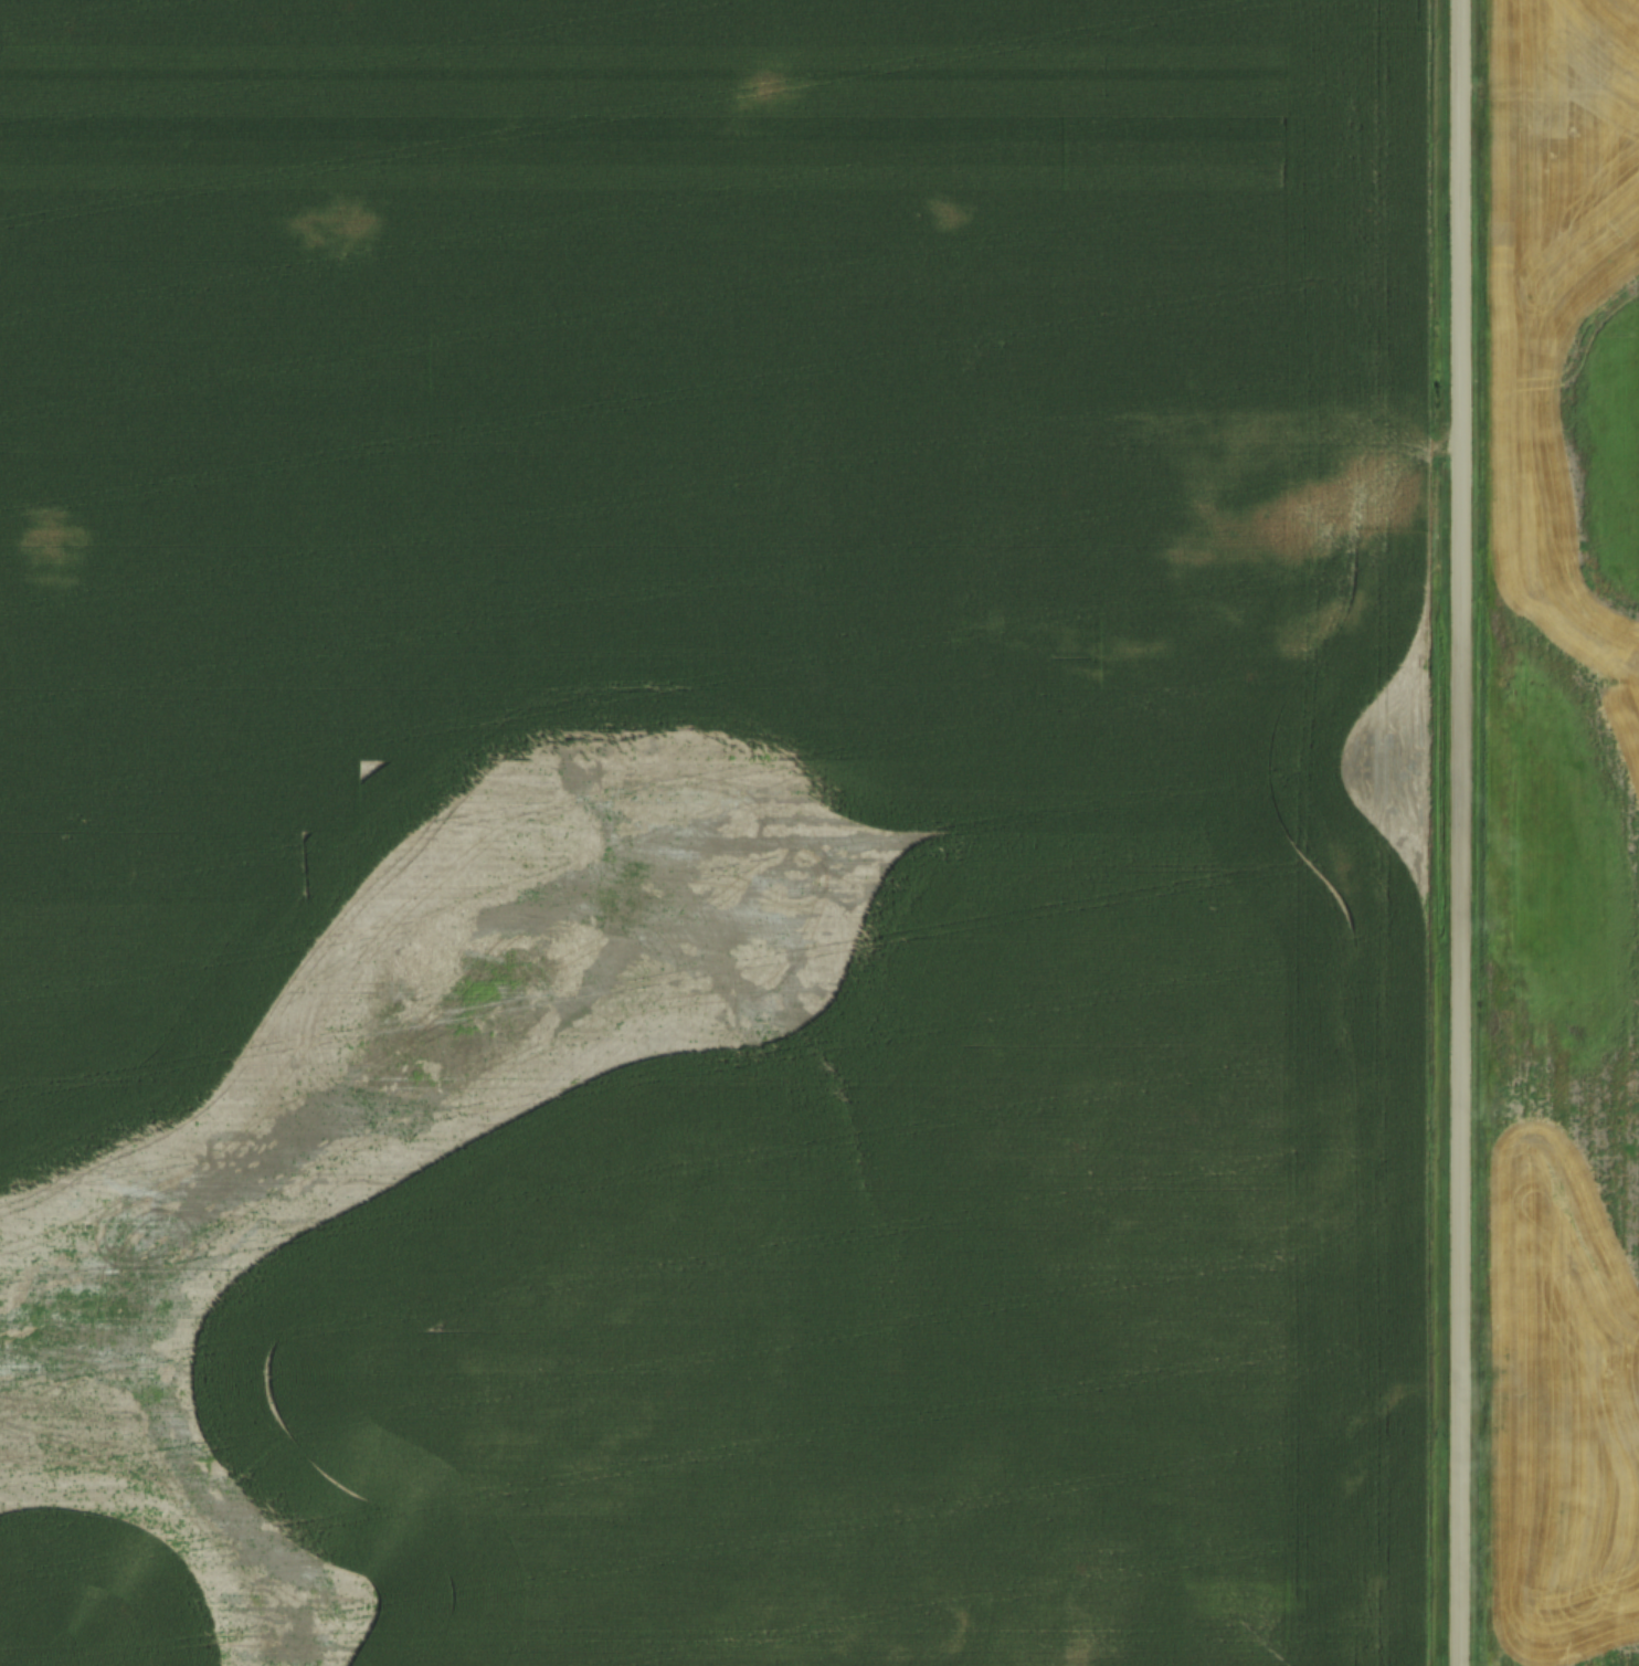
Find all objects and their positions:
road: (1459, 833)

